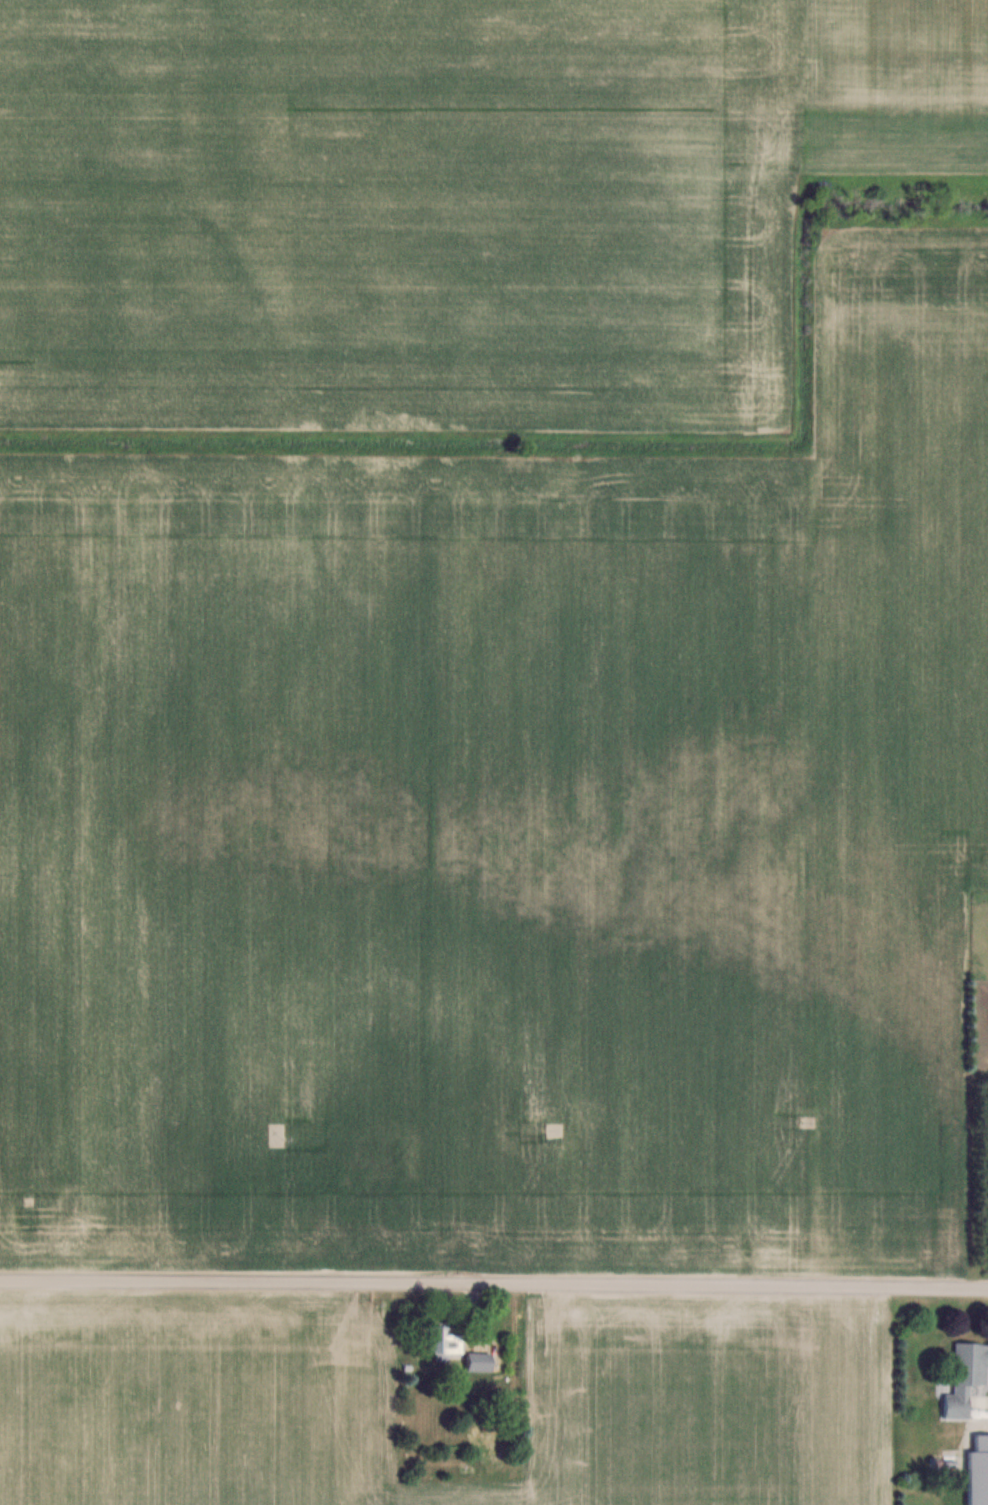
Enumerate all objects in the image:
road: (494, 1288)
building: (443, 1343)
building: (480, 1361)
building: (967, 1377)
building: (488, 1434)
building: (979, 1471)

